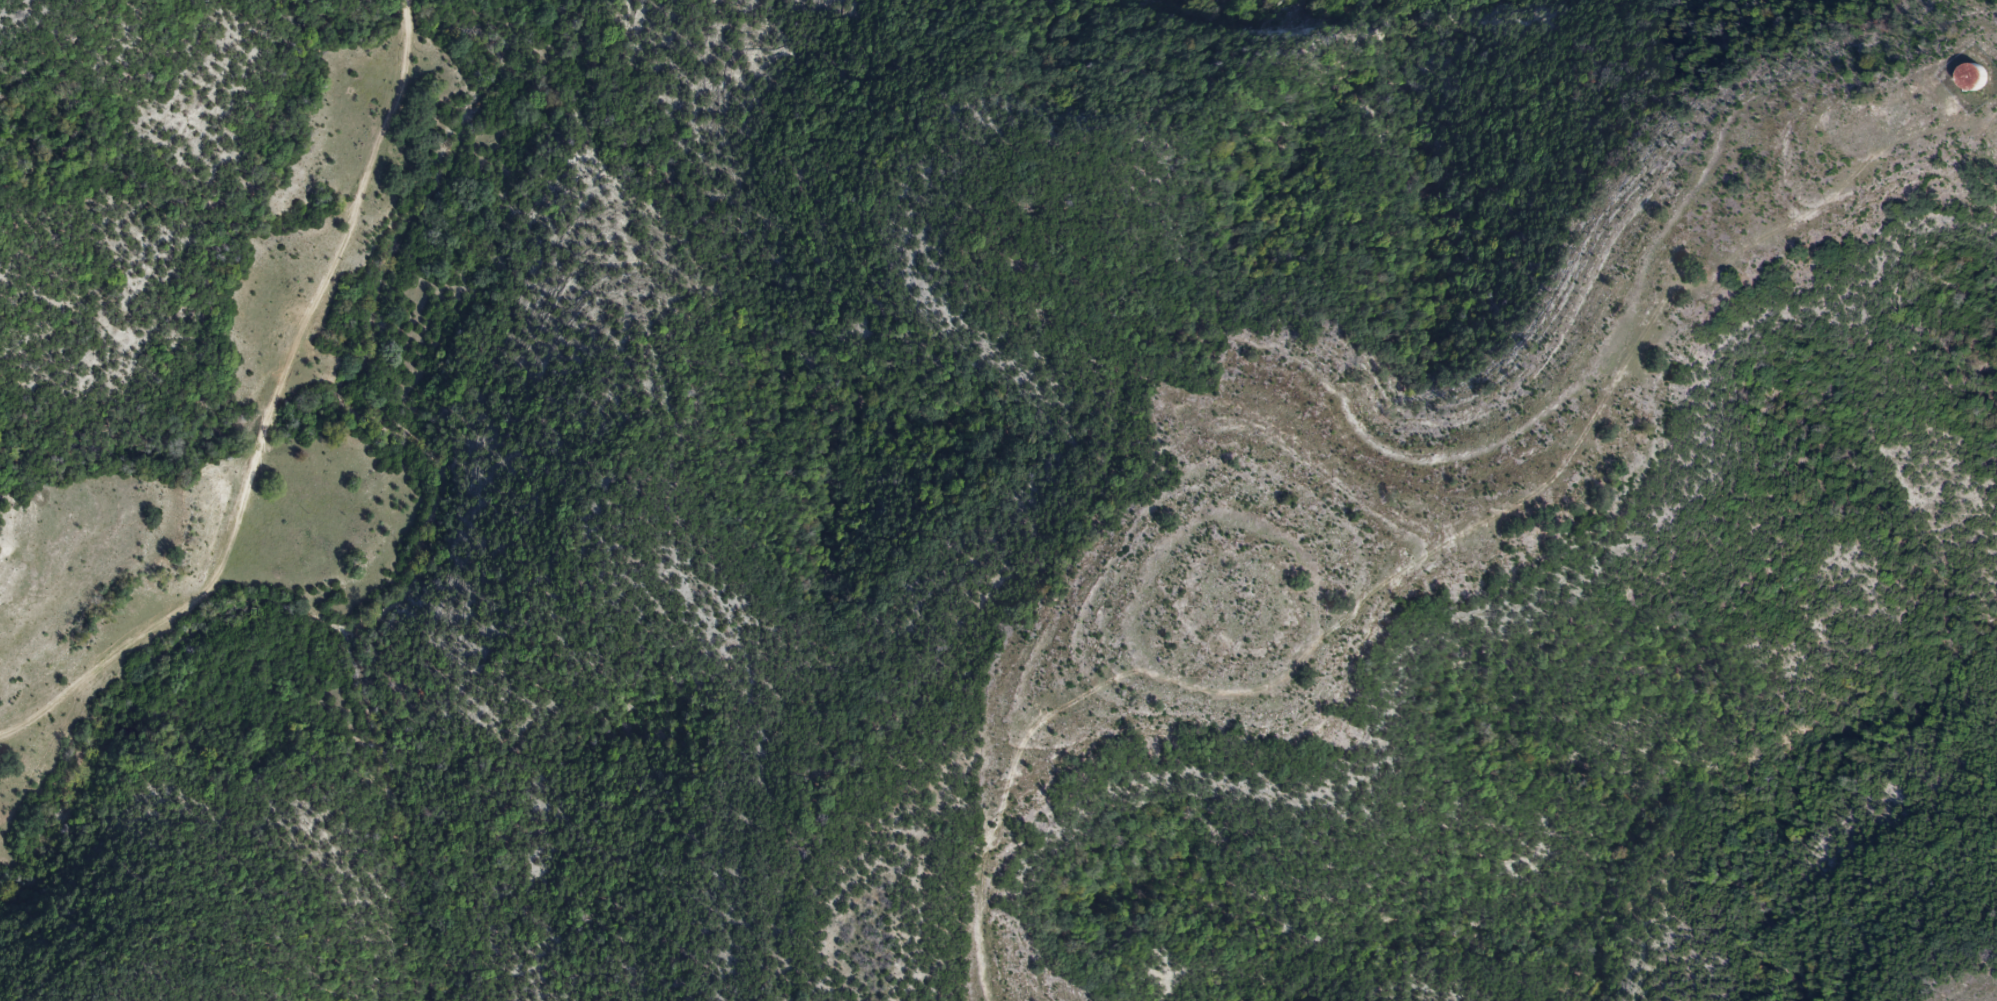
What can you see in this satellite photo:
building: (1971, 76)

